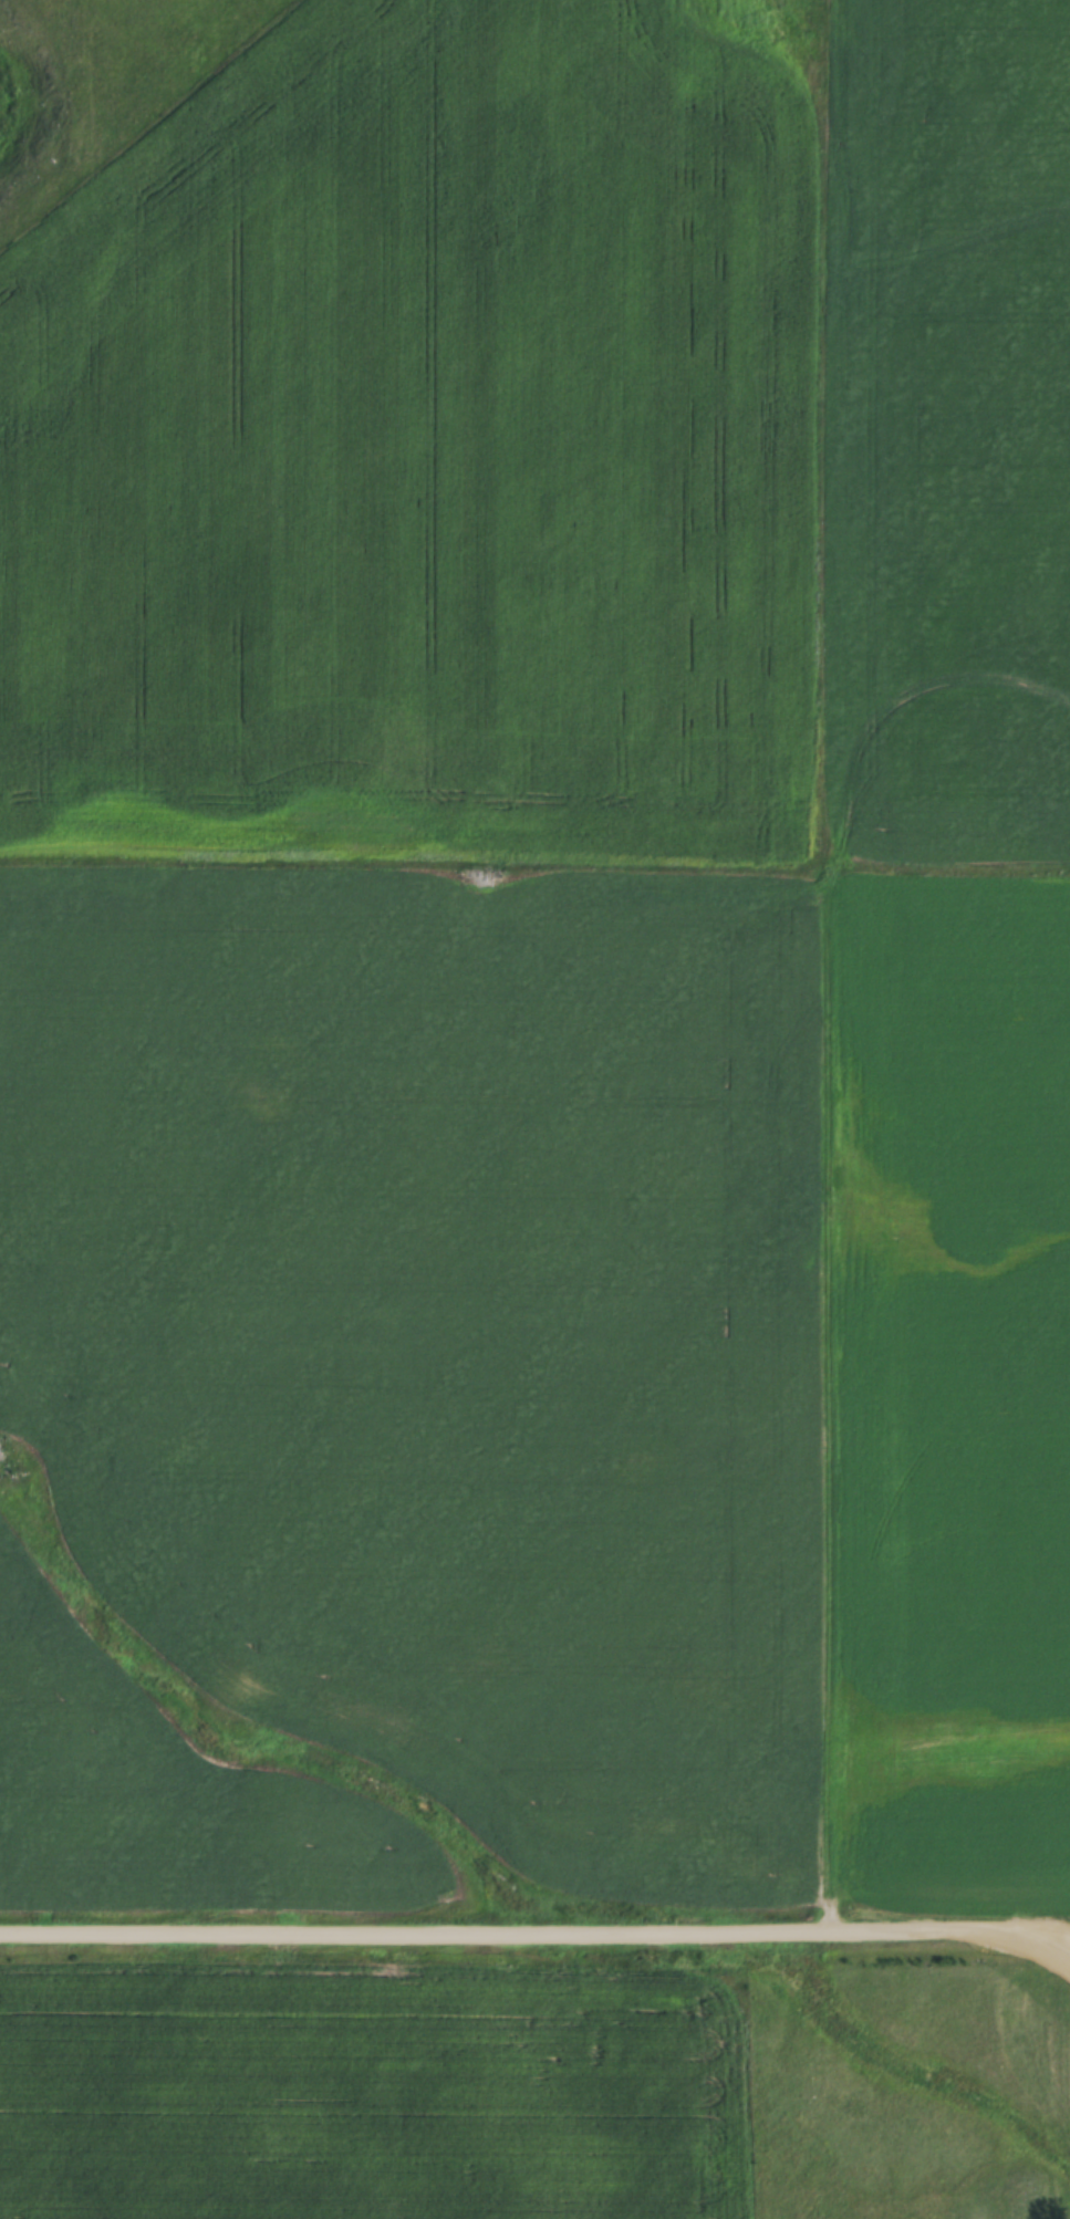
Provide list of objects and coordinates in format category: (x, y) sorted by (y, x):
road: (536, 1930)

